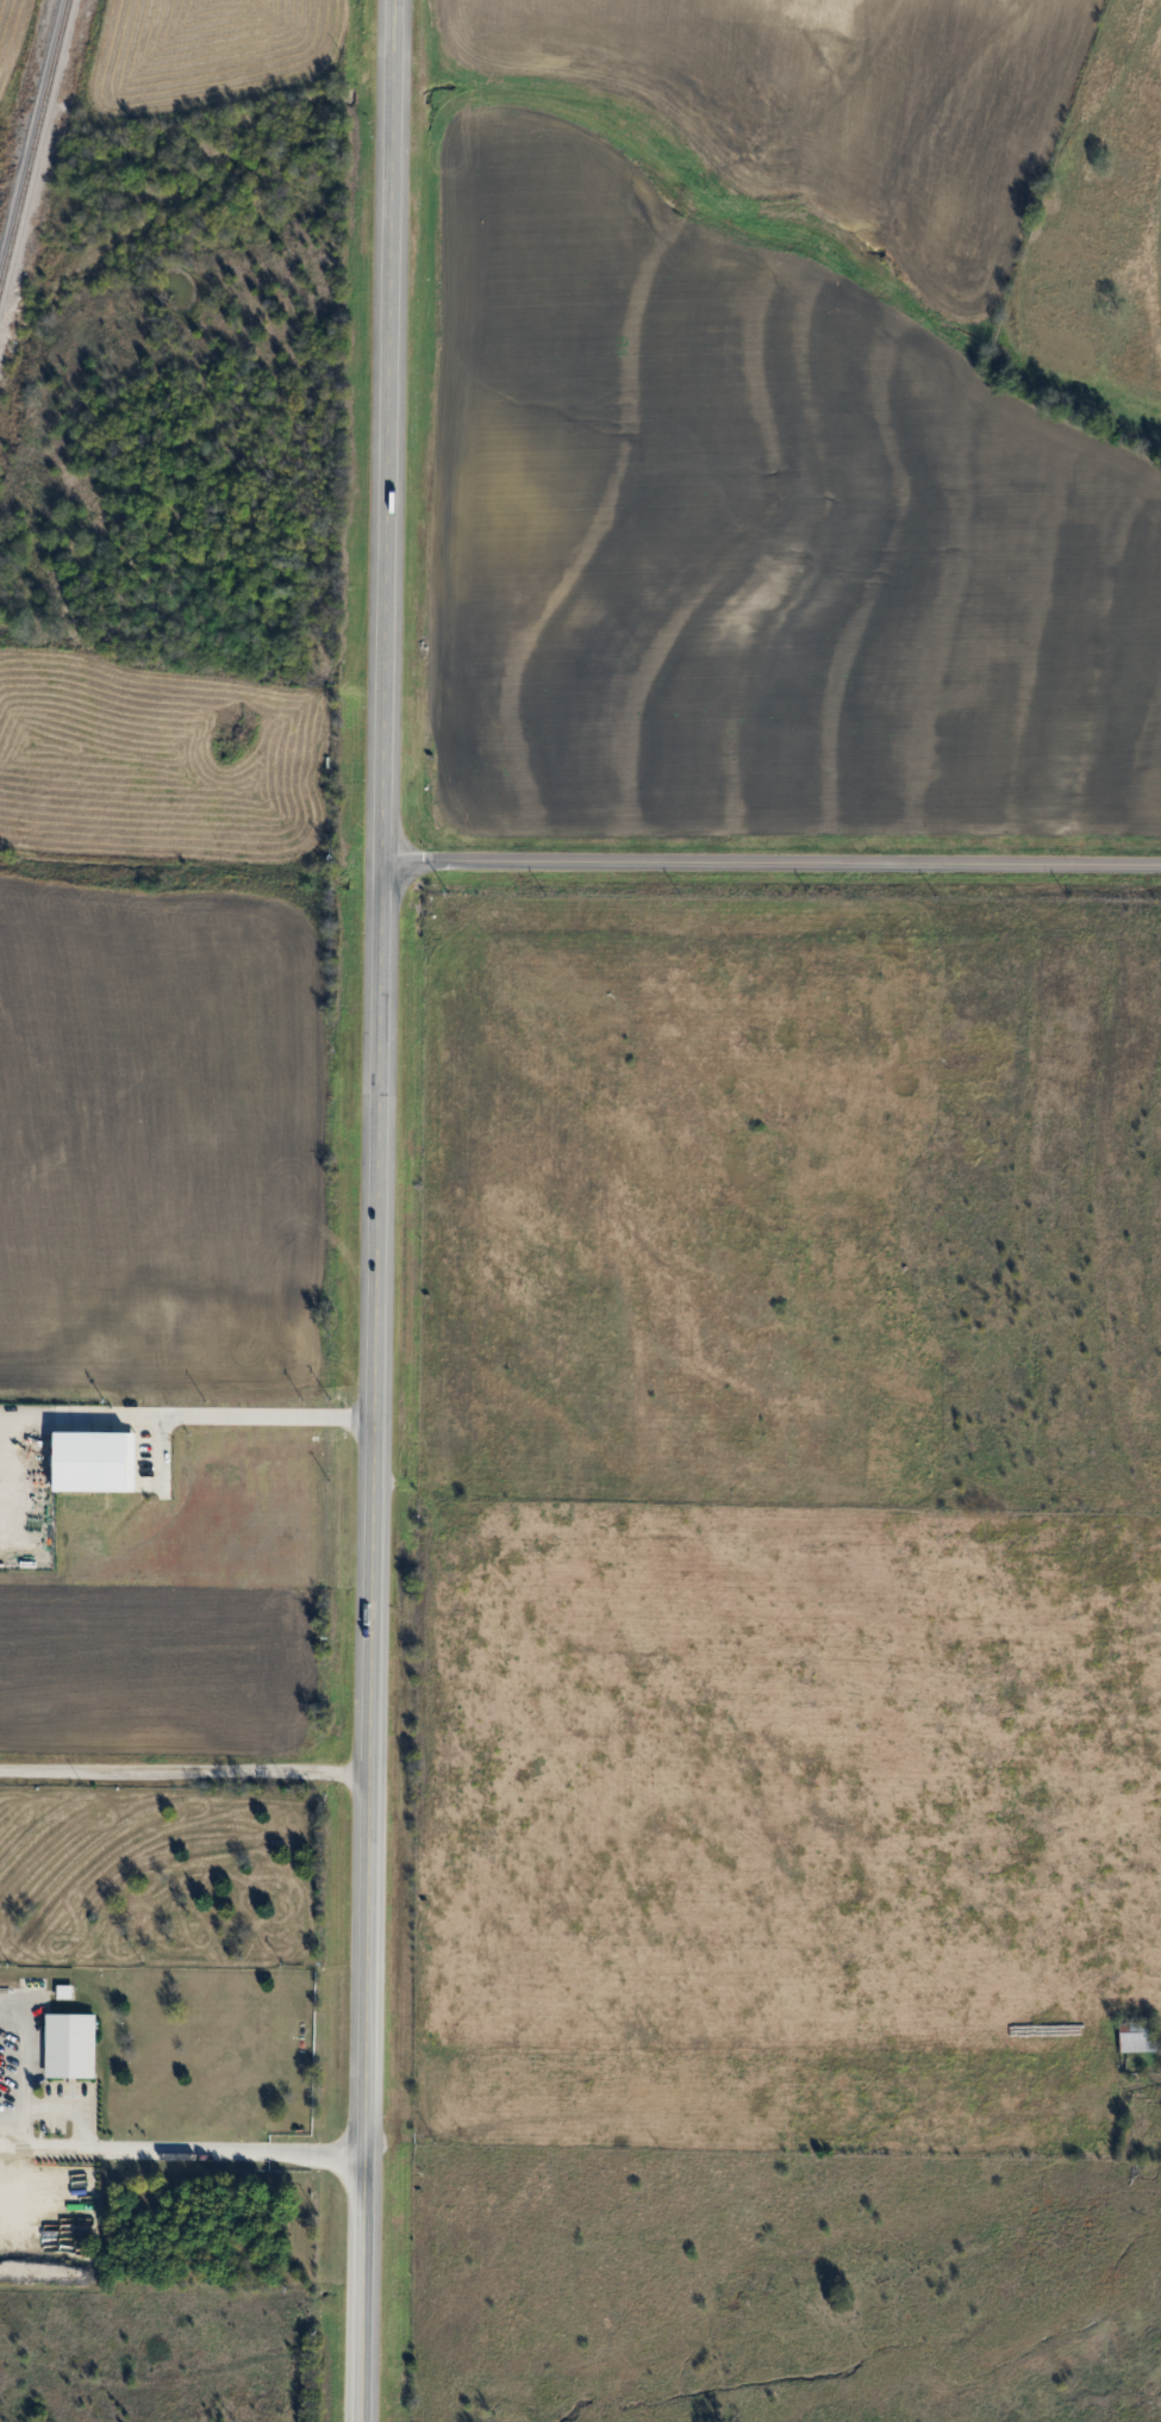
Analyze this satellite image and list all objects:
crop: (806, 118)
railway: (33, 144)
crop: (763, 521)
road: (768, 863)
crop: (166, 1031)
road: (372, 1210)
road: (223, 1415)
road: (181, 1774)
building: (1138, 2035)
building: (71, 2044)
road: (23, 2059)
road: (70, 2104)
road: (11, 2146)
road: (191, 2150)

